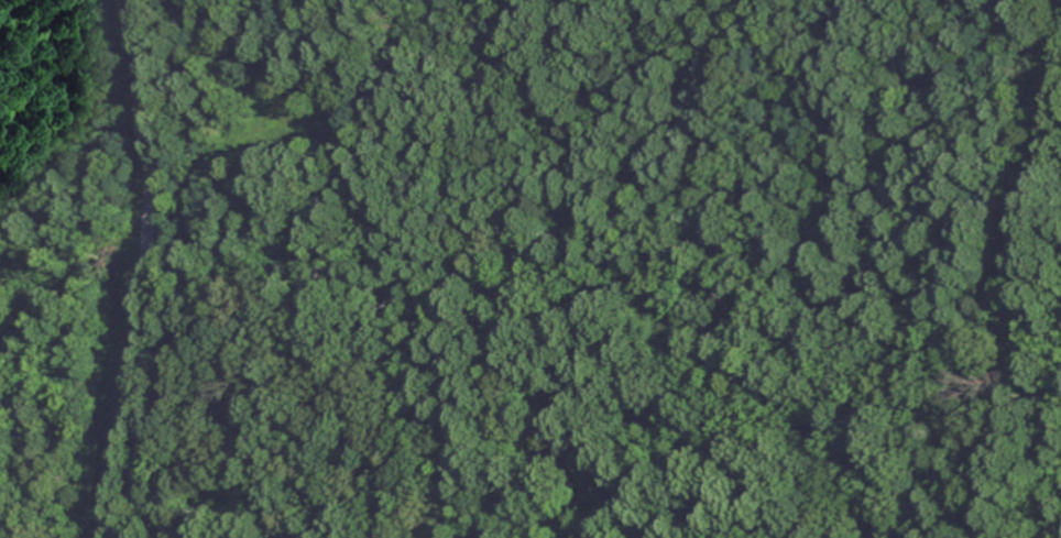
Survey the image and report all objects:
road: (141, 268)

